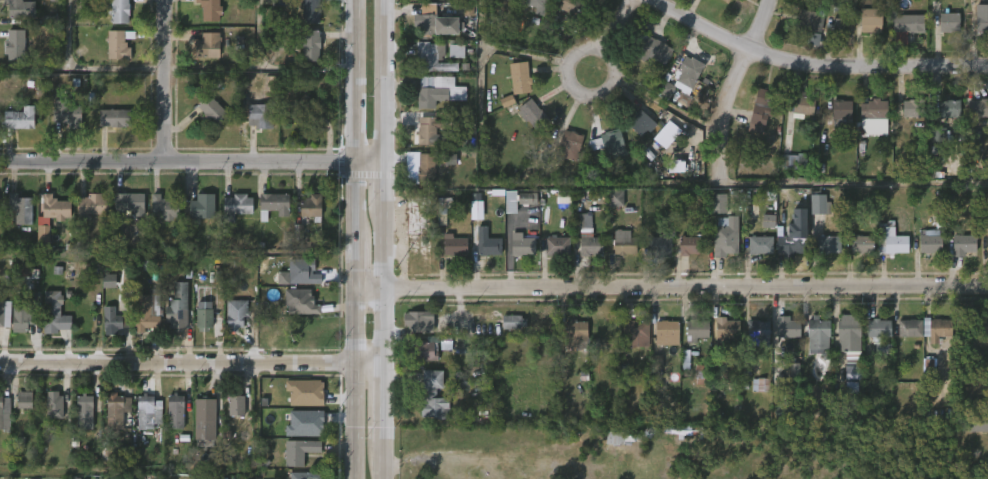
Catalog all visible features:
building: (545, 0)
building: (804, 0)
building: (419, 1)
building: (495, 1)
building: (722, 1)
building: (283, 2)
building: (573, 6)
building: (21, 8)
building: (528, 8)
building: (209, 9)
building: (119, 11)
building: (308, 11)
building: (871, 16)
building: (202, 17)
building: (13, 18)
building: (981, 18)
building: (811, 19)
building: (435, 20)
building: (948, 21)
building: (907, 24)
road: (618, 31)
building: (803, 31)
building: (863, 31)
building: (427, 33)
road: (66, 34)
building: (901, 34)
building: (828, 36)
building: (15, 44)
building: (117, 44)
building: (310, 44)
building: (207, 47)
building: (651, 50)
building: (111, 55)
building: (9, 56)
building: (304, 56)
building: (433, 57)
building: (449, 62)
road: (245, 65)
road: (307, 65)
road: (82, 68)
building: (424, 69)
building: (688, 72)
road: (808, 72)
building: (520, 79)
road: (164, 82)
road: (353, 82)
road: (385, 82)
building: (513, 88)
road: (734, 89)
building: (436, 94)
road: (571, 99)
building: (797, 105)
building: (911, 108)
building: (300, 109)
building: (948, 109)
building: (977, 109)
building: (760, 110)
building: (210, 111)
building: (839, 111)
building: (67, 112)
building: (872, 114)
building: (533, 115)
building: (258, 116)
building: (19, 118)
building: (111, 119)
building: (903, 119)
building: (942, 119)
building: (973, 119)
building: (206, 121)
building: (61, 123)
building: (525, 123)
building: (638, 123)
building: (834, 125)
building: (254, 126)
building: (868, 127)
building: (14, 129)
building: (107, 129)
building: (424, 131)
building: (634, 134)
building: (608, 142)
building: (570, 144)
building: (602, 154)
building: (563, 156)
building: (793, 161)
road: (176, 164)
road: (369, 165)
building: (424, 167)
building: (420, 178)
road: (385, 185)
road: (640, 186)
building: (128, 202)
building: (92, 204)
building: (817, 204)
building: (233, 205)
building: (273, 205)
building: (308, 205)
building: (202, 206)
building: (55, 207)
building: (20, 208)
building: (160, 208)
building: (556, 208)
building: (520, 209)
building: (608, 209)
building: (119, 213)
building: (812, 213)
building: (416, 214)
building: (85, 215)
building: (267, 215)
building: (305, 216)
building: (230, 217)
building: (49, 218)
building: (196, 218)
building: (14, 219)
building: (469, 220)
building: (160, 221)
building: (406, 229)
building: (576, 231)
building: (724, 237)
building: (890, 239)
building: (928, 241)
building: (487, 242)
building: (588, 243)
building: (791, 243)
building: (827, 243)
building: (860, 243)
building: (963, 243)
building: (987, 243)
building: (452, 244)
building: (522, 244)
building: (659, 244)
building: (758, 244)
building: (37, 245)
building: (555, 245)
building: (624, 245)
building: (689, 245)
building: (884, 250)
building: (923, 252)
building: (481, 254)
building: (784, 254)
building: (515, 255)
building: (583, 255)
building: (654, 255)
building: (683, 255)
building: (821, 255)
building: (855, 255)
building: (956, 255)
building: (448, 256)
building: (550, 256)
building: (754, 256)
building: (300, 271)
building: (293, 282)
road: (385, 285)
road: (671, 295)
building: (298, 302)
building: (174, 307)
building: (144, 310)
building: (234, 311)
building: (1, 312)
building: (54, 313)
building: (21, 316)
building: (204, 316)
building: (297, 317)
building: (115, 318)
building: (414, 321)
road: (353, 322)
building: (48, 324)
building: (2, 325)
building: (230, 325)
building: (198, 326)
building: (910, 327)
building: (695, 328)
building: (786, 328)
building: (15, 329)
building: (107, 329)
building: (634, 329)
building: (726, 329)
building: (879, 329)
building: (937, 329)
building: (411, 332)
building: (667, 332)
building: (507, 333)
building: (756, 333)
building: (575, 334)
building: (818, 334)
building: (603, 336)
building: (918, 337)
building: (902, 338)
building: (781, 339)
building: (719, 340)
building: (932, 340)
building: (690, 341)
building: (660, 343)
building: (630, 344)
building: (851, 345)
building: (872, 345)
building: (811, 347)
building: (420, 348)
building: (842, 348)
building: (419, 362)
road: (193, 367)
building: (728, 367)
building: (702, 374)
building: (431, 395)
building: (753, 395)
building: (299, 403)
building: (54, 405)
road: (386, 408)
building: (18, 410)
building: (116, 410)
building: (149, 411)
building: (784, 411)
building: (84, 412)
building: (175, 412)
building: (4, 414)
building: (47, 415)
building: (230, 416)
building: (818, 416)
building: (204, 417)
building: (110, 421)
building: (78, 422)
building: (169, 422)
building: (142, 423)
building: (977, 423)
building: (973, 436)
building: (296, 451)
building: (293, 462)
road: (387, 465)
building: (305, 475)

